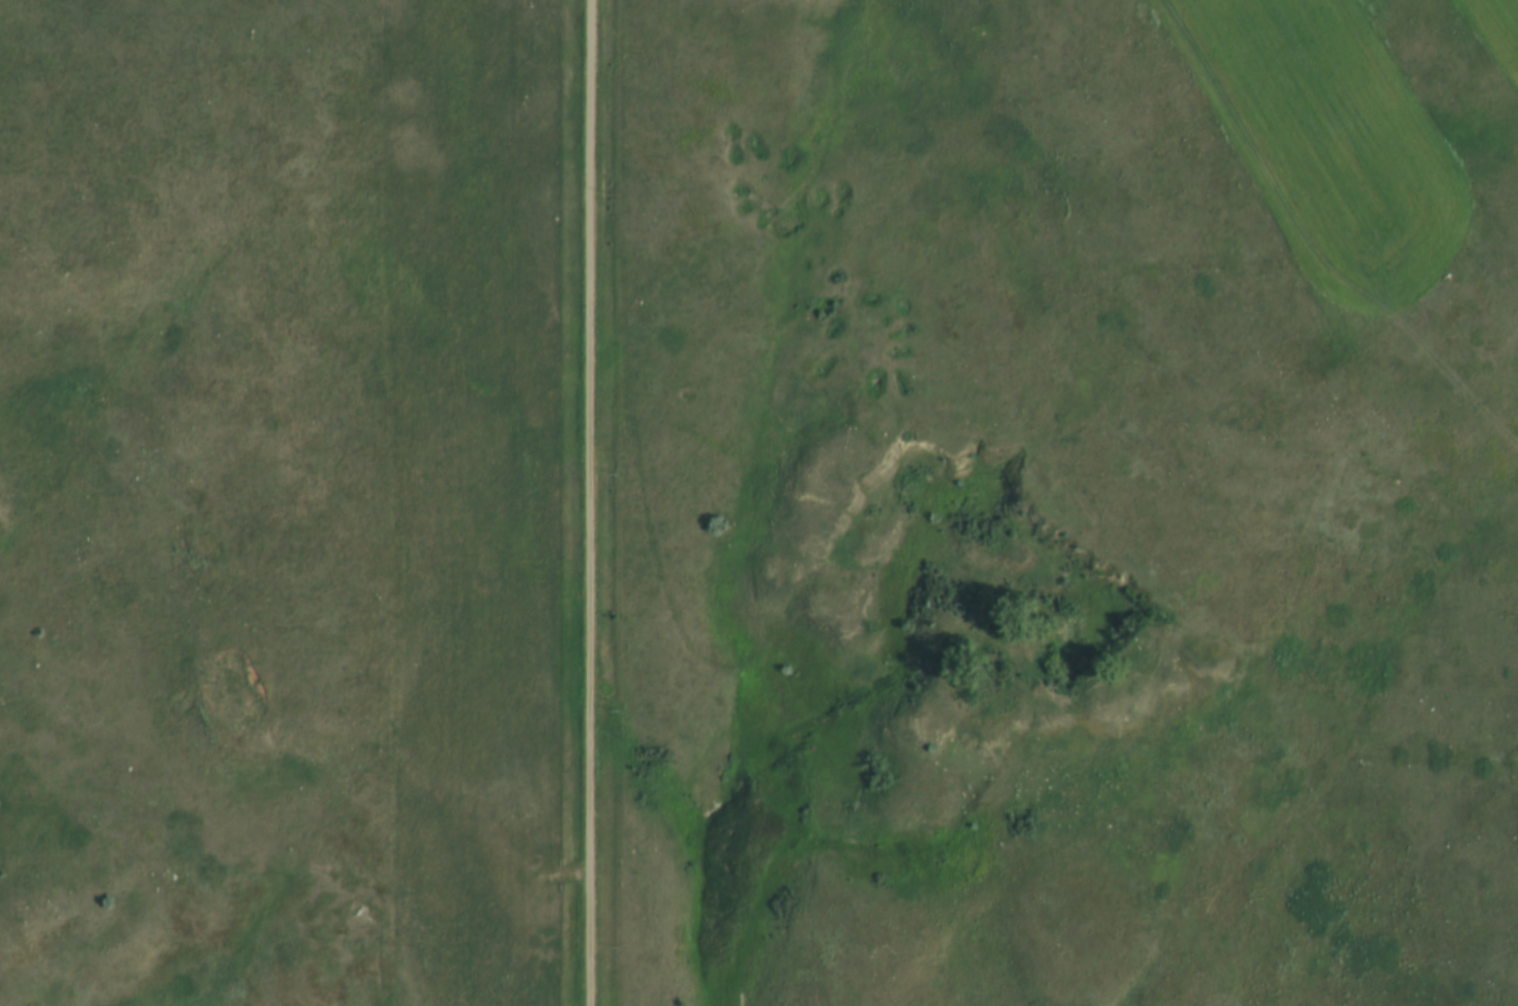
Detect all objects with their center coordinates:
road: (590, 503)

